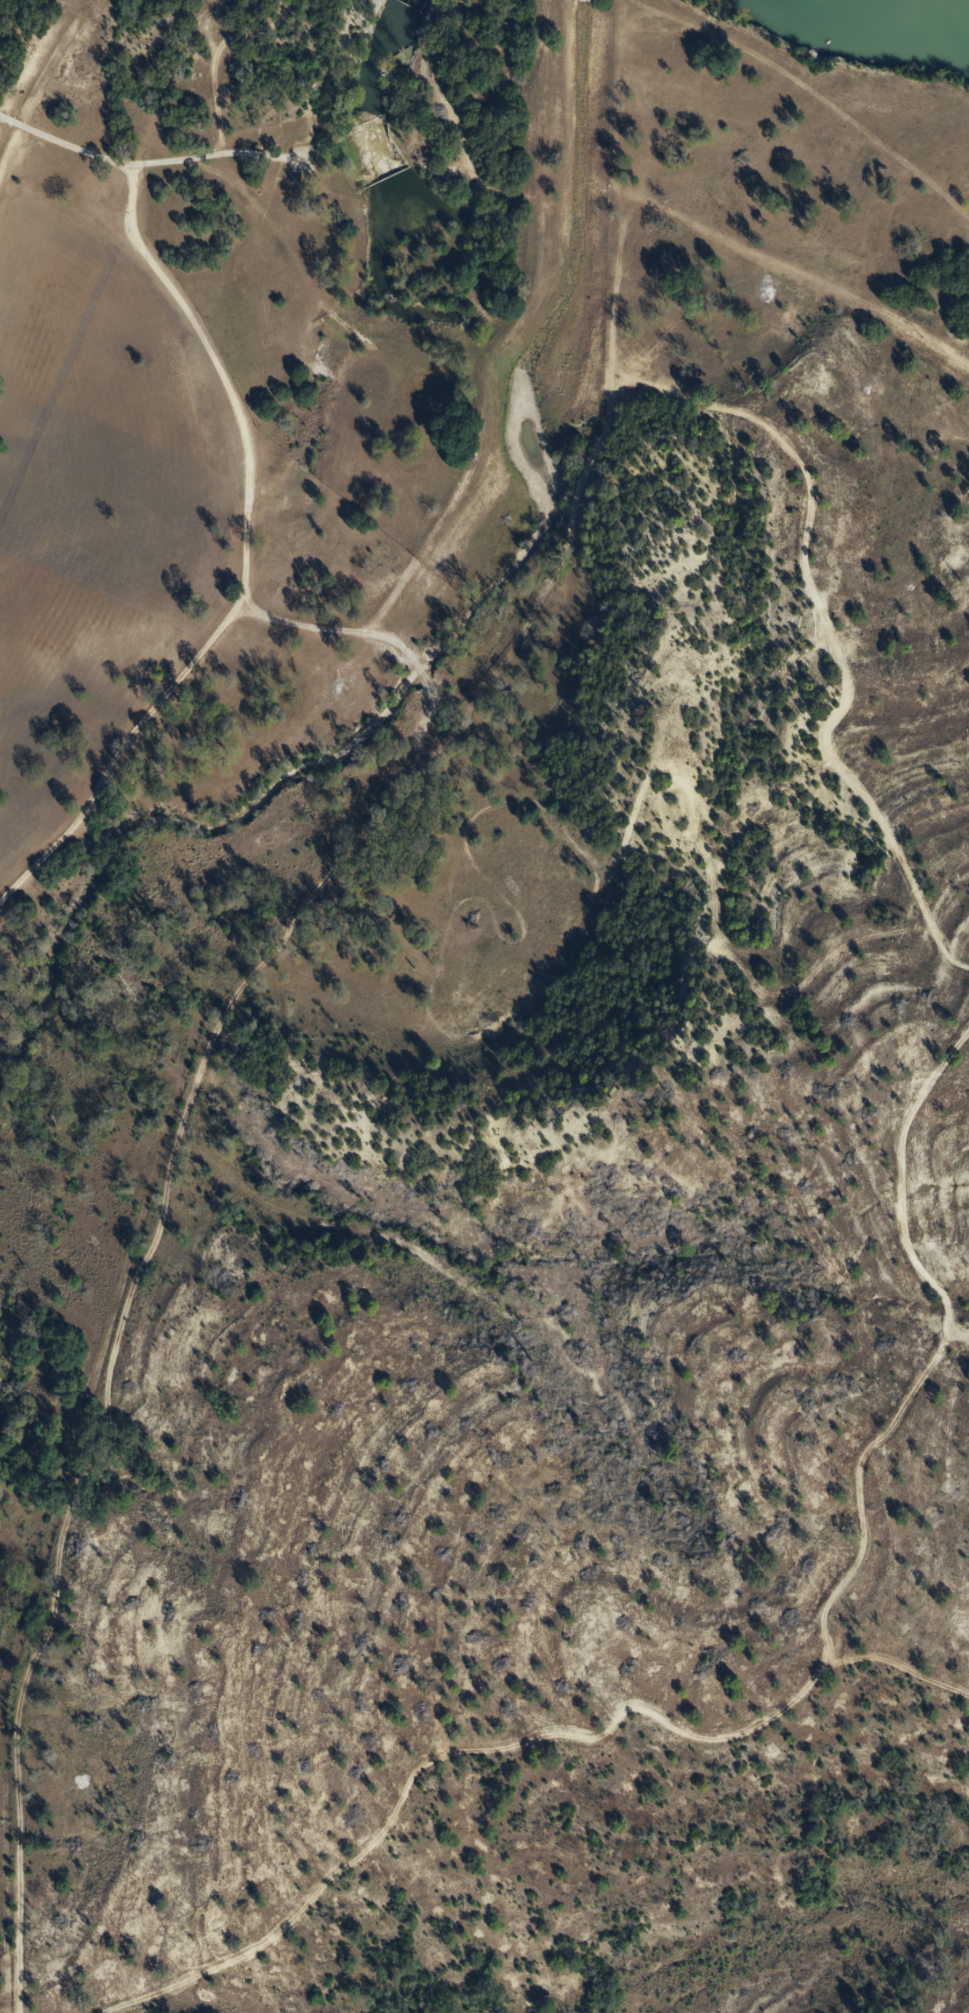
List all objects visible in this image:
road: (68, 152)
road: (250, 486)

